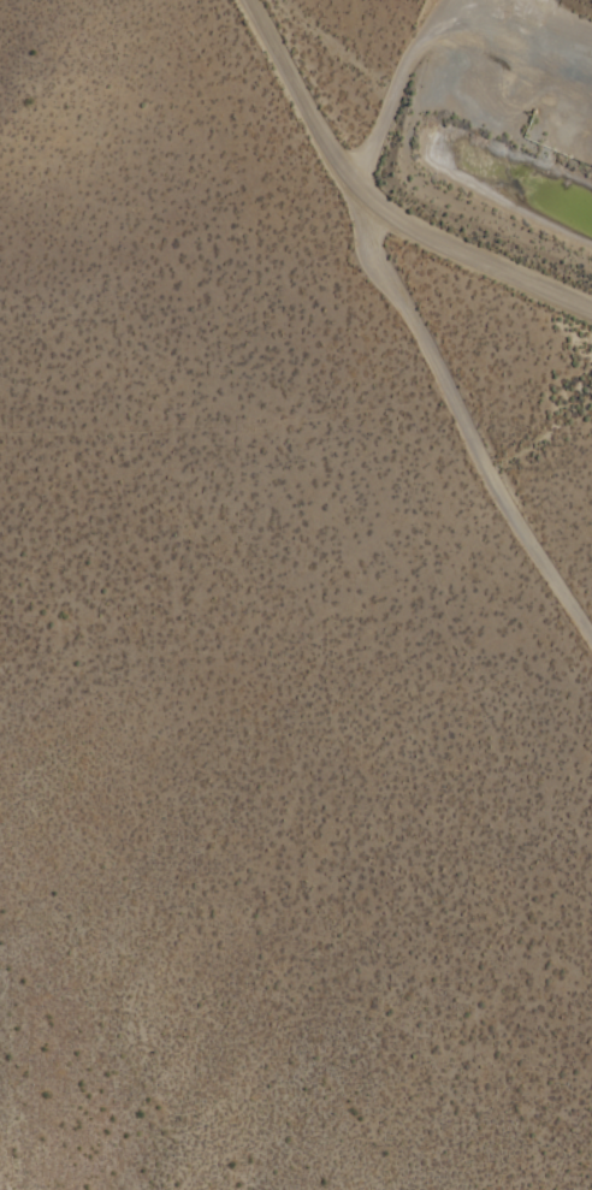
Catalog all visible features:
road: (469, 273)
road: (407, 342)

